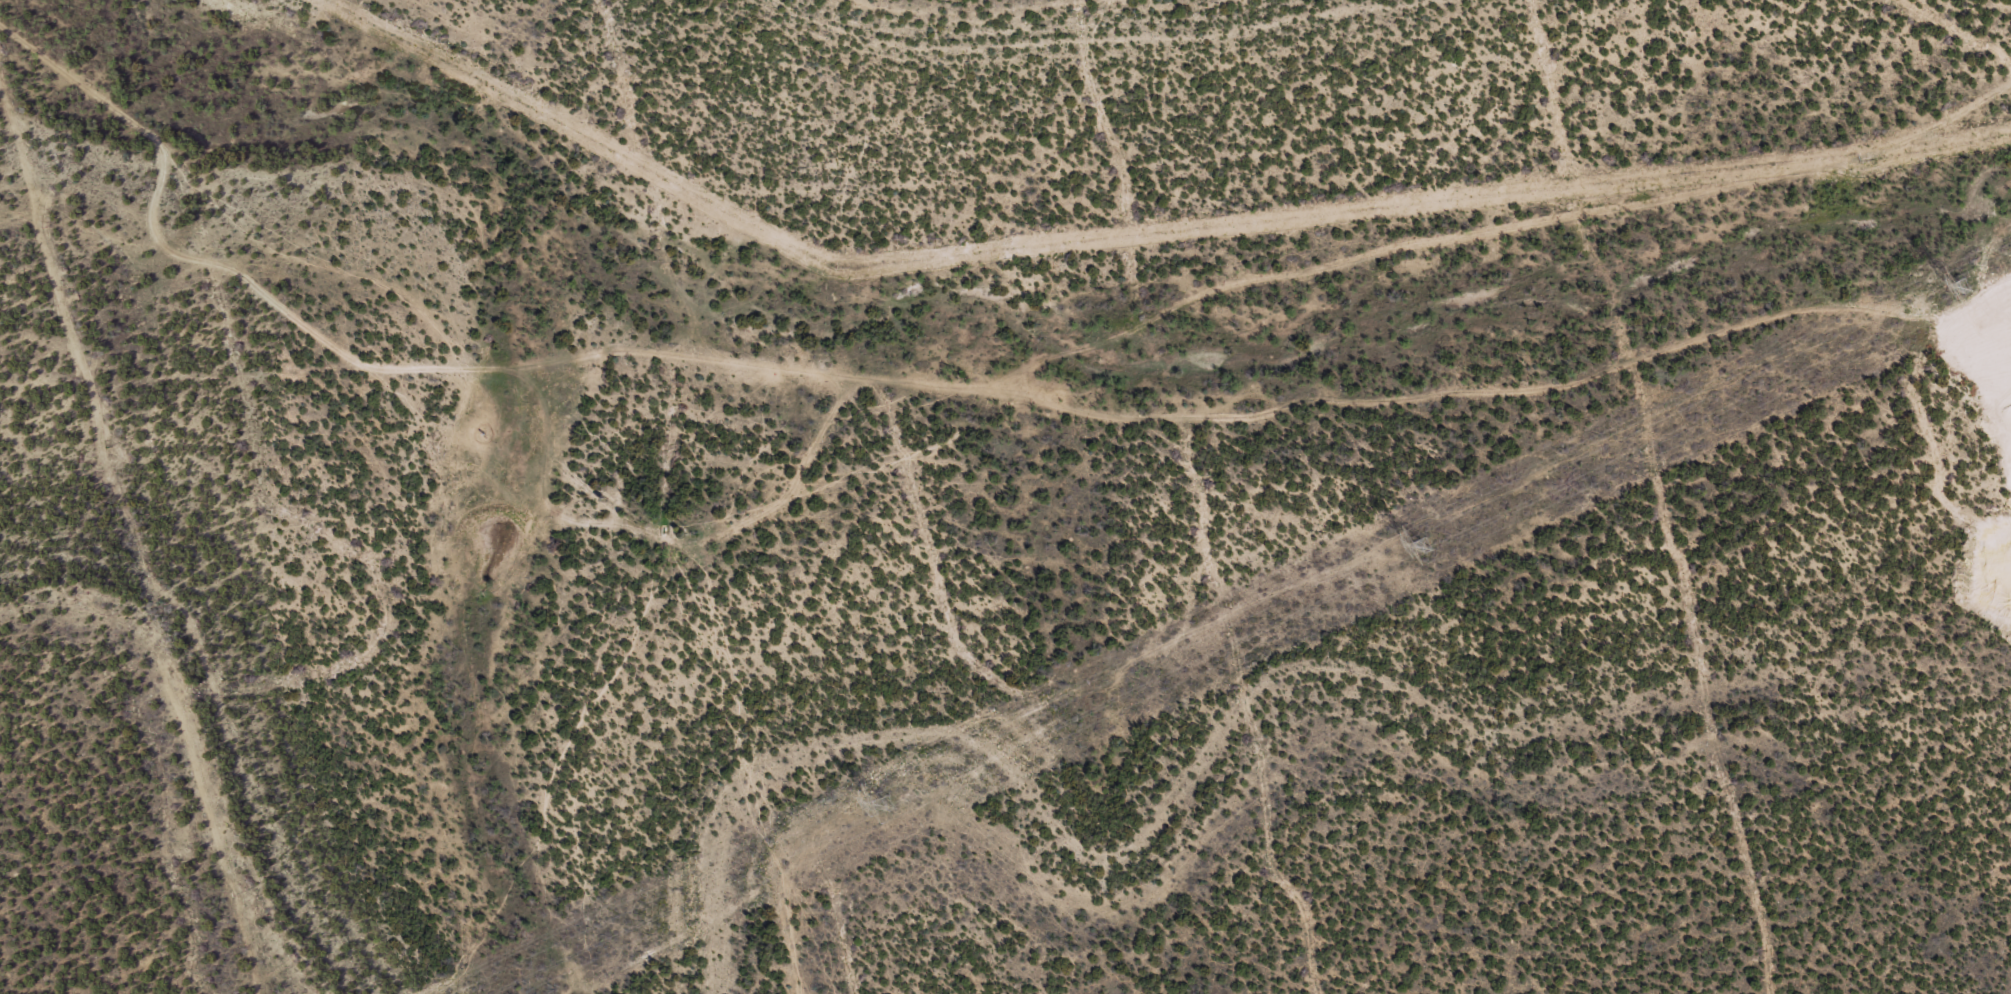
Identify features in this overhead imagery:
power tower: (1965, 278)
power tower: (1425, 539)
power tower: (892, 801)

